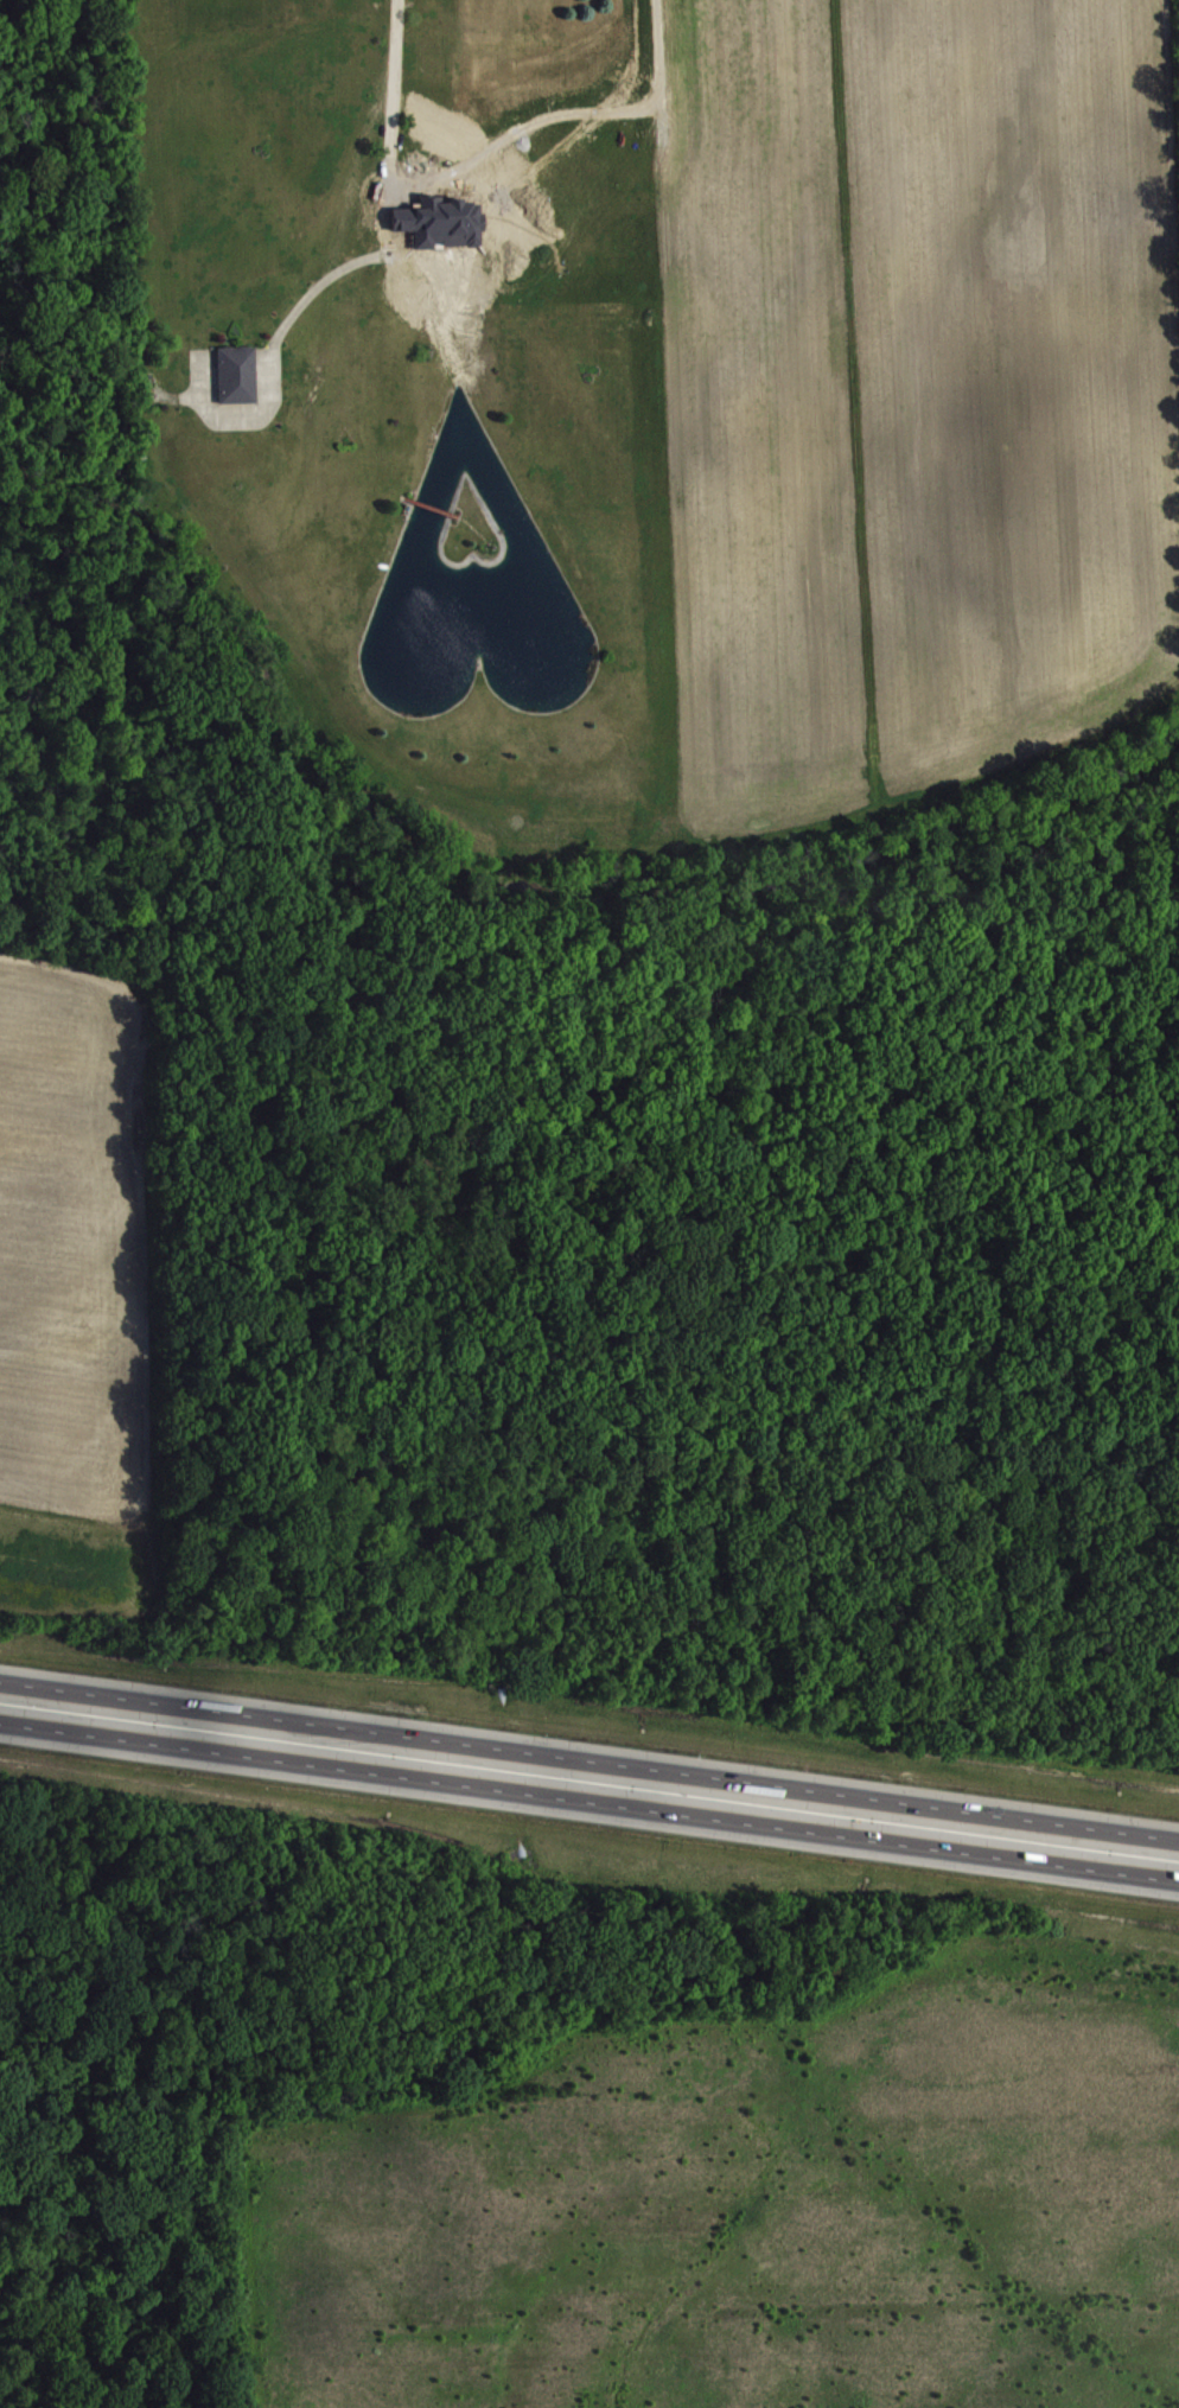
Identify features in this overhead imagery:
road: (394, 210)
building: (240, 375)
crop: (916, 394)
road: (589, 1762)
road: (589, 1797)

